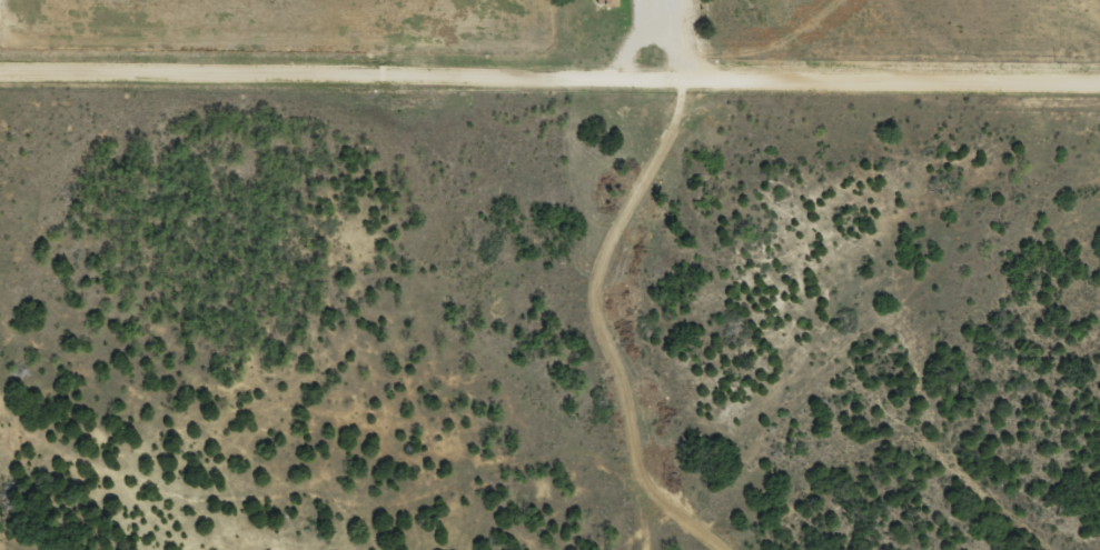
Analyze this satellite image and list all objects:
building: (603, 3)
road: (549, 92)

